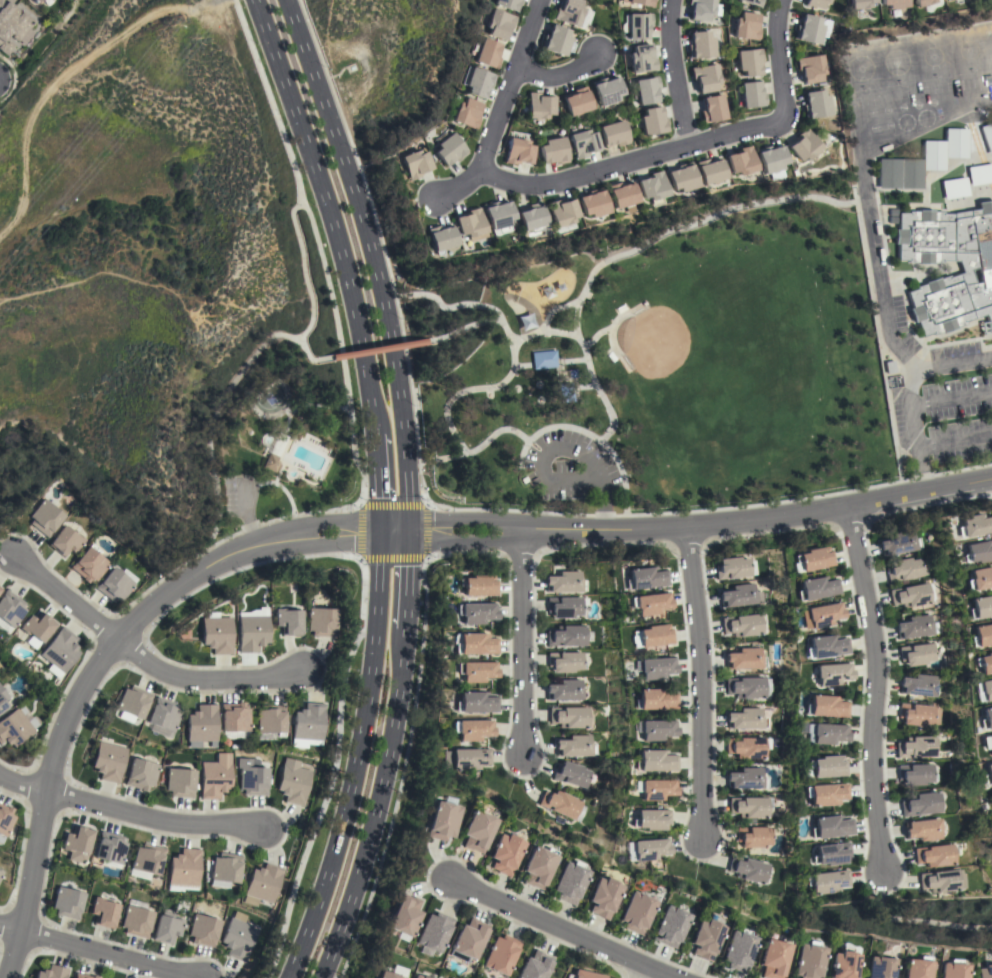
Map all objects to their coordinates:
building: (32, 0)
building: (36, 1)
building: (642, 2)
building: (752, 2)
building: (922, 2)
building: (815, 3)
building: (859, 3)
building: (894, 3)
building: (508, 4)
building: (700, 9)
building: (569, 12)
building: (498, 24)
building: (13, 25)
building: (638, 26)
building: (745, 26)
building: (808, 30)
building: (556, 41)
building: (700, 45)
building: (487, 54)
building: (641, 59)
building: (749, 61)
building: (810, 68)
road: (674, 72)
road: (561, 74)
building: (705, 78)
building: (477, 82)
building: (606, 90)
building: (645, 90)
building: (751, 94)
building: (577, 101)
building: (815, 104)
building: (539, 106)
road: (500, 109)
building: (712, 109)
building: (466, 113)
building: (652, 121)
building: (613, 133)
building: (987, 136)
building: (583, 143)
road: (687, 145)
building: (804, 145)
building: (449, 149)
building: (553, 151)
building: (518, 152)
building: (771, 159)
building: (741, 160)
building: (922, 161)
building: (414, 164)
building: (709, 170)
building: (980, 174)
building: (681, 177)
building: (652, 187)
building: (955, 188)
building: (621, 194)
building: (592, 203)
road: (328, 212)
building: (560, 212)
building: (497, 215)
building: (531, 217)
building: (470, 225)
road: (659, 233)
building: (440, 238)
road: (317, 248)
building: (985, 269)
road: (301, 271)
road: (879, 285)
road: (552, 309)
road: (461, 328)
road: (376, 349)
road: (512, 351)
building: (543, 359)
park: (654, 359)
road: (597, 390)
building: (565, 392)
road: (909, 393)
road: (951, 398)
road: (221, 401)
road: (590, 436)
road: (954, 441)
road: (476, 448)
building: (270, 462)
road: (377, 482)
road: (405, 486)
road: (448, 510)
road: (246, 514)
building: (44, 518)
road: (687, 524)
building: (974, 525)
traffic signals: (379, 532)
traffic signals: (405, 533)
road: (227, 537)
building: (66, 541)
building: (899, 543)
building: (978, 551)
road: (424, 558)
building: (815, 559)
building: (89, 564)
building: (732, 568)
building: (903, 569)
building: (645, 578)
building: (979, 579)
building: (564, 582)
building: (114, 585)
building: (478, 585)
building: (0, 589)
building: (816, 589)
building: (910, 595)
building: (739, 596)
building: (650, 603)
building: (564, 607)
building: (980, 607)
building: (10, 609)
building: (476, 613)
building: (821, 615)
building: (288, 622)
building: (321, 622)
building: (742, 625)
building: (38, 626)
building: (914, 627)
building: (252, 633)
building: (217, 635)
building: (981, 635)
building: (565, 636)
building: (655, 636)
road: (520, 642)
building: (477, 644)
building: (826, 646)
building: (60, 650)
building: (917, 654)
road: (142, 658)
building: (745, 659)
building: (565, 662)
building: (984, 663)
road: (96, 665)
building: (0, 667)
building: (656, 668)
building: (476, 671)
building: (832, 673)
road: (698, 683)
building: (918, 685)
road: (873, 686)
building: (745, 687)
building: (986, 689)
building: (564, 690)
building: (656, 699)
building: (2, 700)
building: (133, 702)
building: (476, 703)
building: (826, 706)
building: (164, 714)
building: (919, 714)
building: (568, 717)
building: (270, 719)
building: (745, 719)
building: (986, 719)
building: (235, 720)
building: (307, 724)
building: (202, 726)
building: (16, 727)
building: (657, 729)
building: (472, 730)
building: (825, 733)
building: (989, 743)
building: (574, 746)
building: (745, 747)
building: (916, 747)
road: (356, 759)
building: (465, 759)
building: (108, 761)
building: (655, 761)
building: (828, 766)
road: (331, 771)
building: (141, 774)
building: (570, 774)
building: (915, 774)
building: (987, 774)
building: (215, 776)
building: (745, 778)
building: (253, 781)
building: (180, 782)
building: (293, 782)
building: (657, 789)
building: (826, 794)
building: (560, 803)
building: (921, 804)
building: (749, 807)
road: (128, 813)
building: (5, 819)
building: (442, 819)
building: (651, 819)
building: (831, 827)
building: (922, 829)
building: (477, 831)
building: (753, 836)
building: (77, 843)
building: (110, 848)
building: (650, 849)
building: (832, 853)
building: (505, 854)
building: (935, 855)
building: (147, 859)
building: (538, 867)
building: (184, 868)
building: (225, 869)
building: (747, 869)
building: (1, 873)
building: (942, 880)
building: (828, 881)
building: (570, 882)
building: (262, 884)
building: (604, 897)
building: (67, 903)
building: (104, 912)
building: (636, 912)
building: (404, 915)
building: (136, 921)
building: (670, 927)
building: (167, 929)
road: (561, 929)
building: (203, 930)
building: (434, 932)
building: (238, 939)
building: (705, 939)
building: (468, 940)
building: (738, 950)
road: (97, 952)
building: (500, 955)
building: (773, 959)
building: (808, 960)
building: (843, 964)
building: (535, 966)
building: (879, 967)
building: (916, 968)
building: (952, 969)
building: (984, 971)
building: (52, 972)
road: (642, 973)
building: (388, 974)
building: (583, 975)
building: (83, 976)
building: (418, 977)

